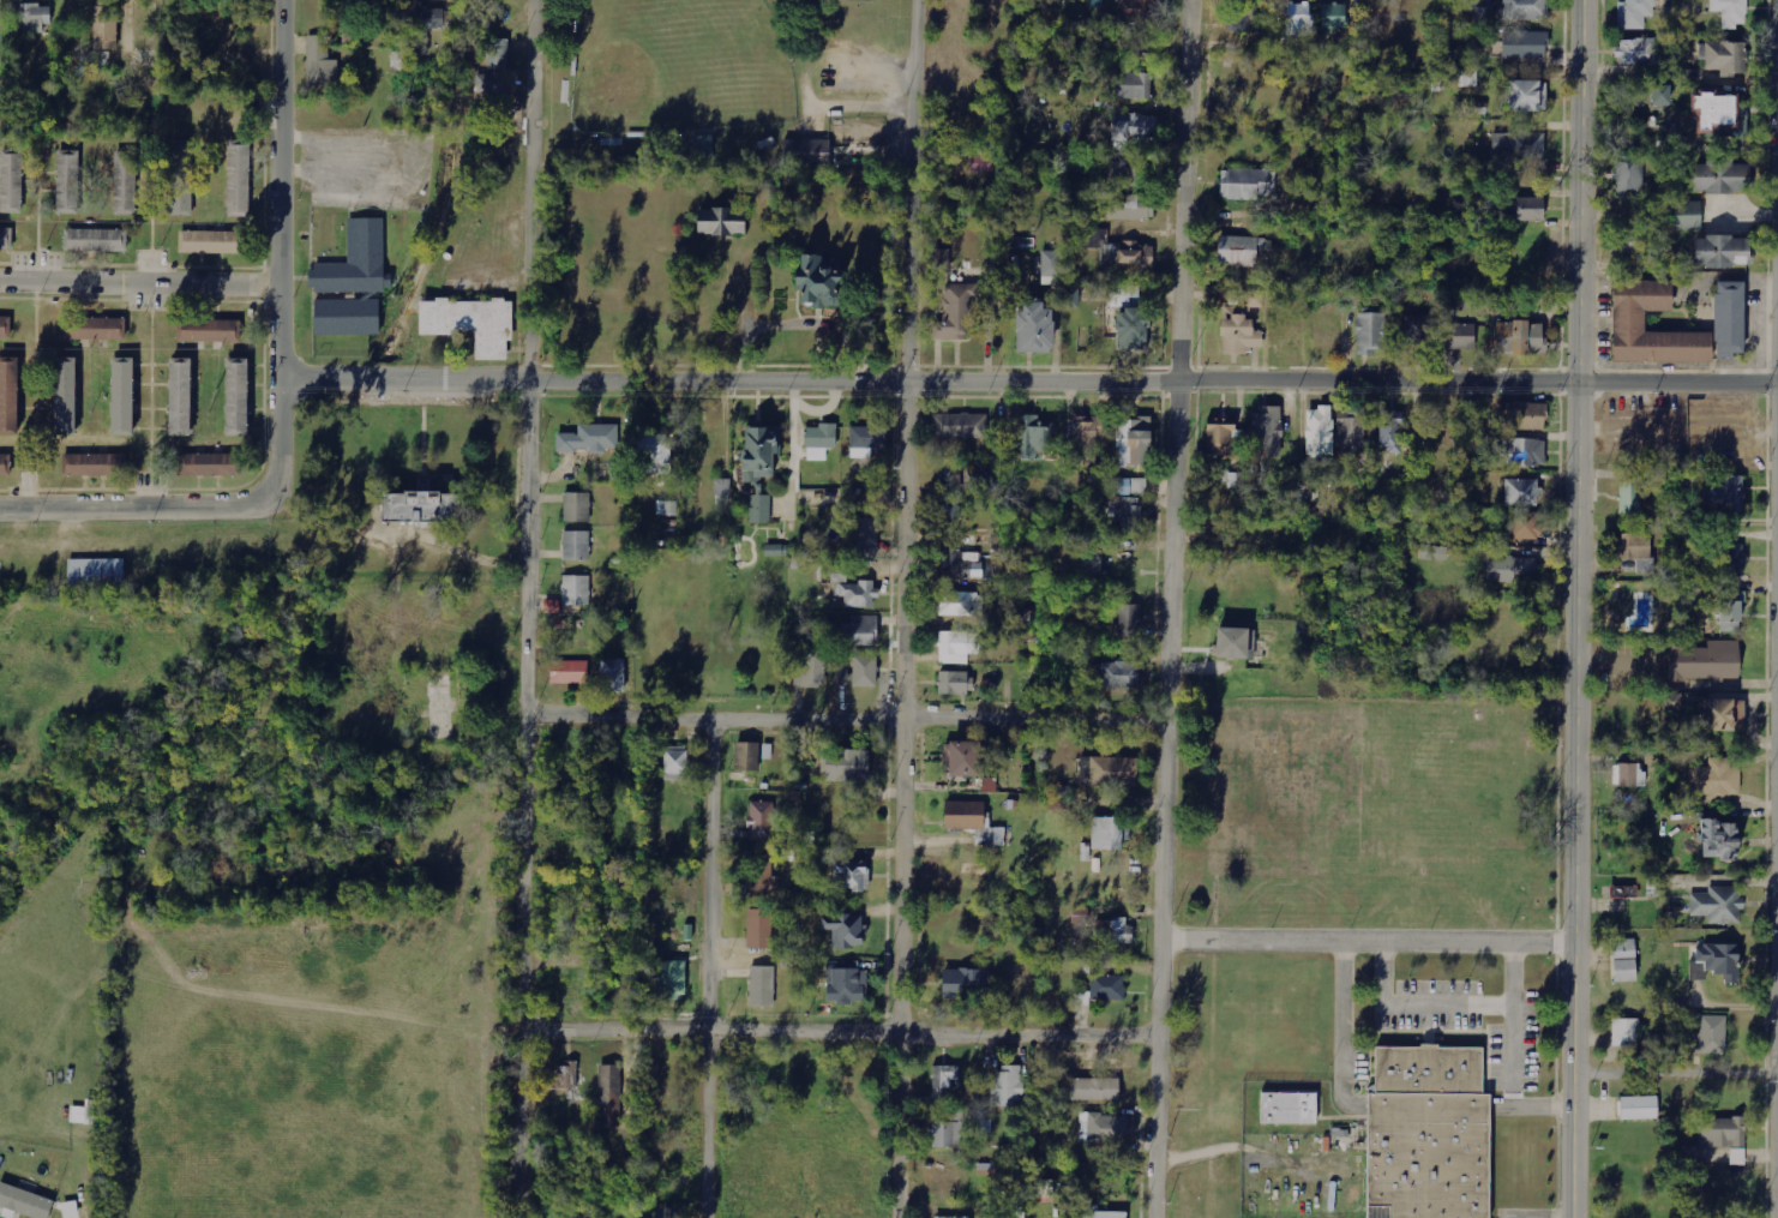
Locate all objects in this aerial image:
building: (1525, 10)
building: (1137, 11)
building: (1730, 11)
building: (1634, 13)
building: (1333, 17)
building: (1484, 17)
building: (35, 18)
building: (1298, 19)
building: (426, 26)
building: (106, 28)
building: (1522, 44)
building: (1636, 50)
building: (498, 54)
building: (1725, 58)
building: (401, 60)
building: (322, 61)
park: (672, 66)
building: (1465, 79)
park: (727, 82)
building: (1440, 83)
building: (492, 85)
building: (1130, 85)
building: (1526, 95)
building: (1660, 95)
building: (1474, 108)
building: (1712, 109)
building: (1133, 126)
building: (703, 146)
building: (1518, 146)
building: (809, 151)
building: (981, 163)
building: (1123, 170)
building: (1720, 176)
building: (182, 178)
building: (1629, 178)
building: (239, 180)
building: (11, 181)
building: (67, 181)
building: (126, 182)
building: (1248, 184)
building: (1128, 208)
building: (1526, 209)
building: (1687, 215)
building: (719, 221)
building: (6, 239)
building: (96, 240)
building: (1629, 241)
building: (210, 242)
building: (1238, 250)
building: (1722, 251)
building: (1119, 252)
road: (280, 257)
building: (941, 258)
building: (356, 262)
building: (1051, 263)
building: (813, 281)
road: (139, 284)
building: (1071, 298)
building: (1255, 299)
building: (956, 313)
building: (347, 317)
building: (470, 323)
building: (1628, 324)
building: (5, 326)
building: (1033, 326)
building: (95, 328)
building: (1130, 329)
building: (210, 330)
building: (1238, 331)
building: (1370, 332)
building: (1418, 334)
building: (1459, 336)
building: (1519, 337)
road: (1029, 383)
building: (8, 395)
building: (64, 396)
building: (121, 396)
building: (179, 396)
building: (236, 397)
building: (1525, 415)
building: (959, 425)
building: (1267, 431)
building: (1319, 432)
building: (1351, 432)
building: (1390, 432)
building: (1035, 437)
building: (1219, 437)
building: (589, 439)
building: (866, 439)
building: (819, 440)
building: (1085, 440)
building: (1133, 442)
building: (758, 451)
building: (1521, 452)
building: (654, 454)
building: (91, 464)
building: (208, 464)
building: (5, 466)
building: (1232, 479)
building: (1130, 486)
building: (722, 487)
building: (1521, 492)
building: (1725, 492)
building: (950, 493)
building: (1630, 497)
building: (419, 504)
building: (576, 508)
building: (667, 508)
building: (759, 509)
road: (127, 510)
building: (1128, 512)
building: (1525, 526)
building: (867, 536)
building: (576, 545)
building: (776, 550)
building: (1635, 551)
building: (1434, 553)
building: (1730, 558)
building: (961, 565)
building: (1509, 568)
building: (96, 572)
building: (576, 590)
building: (858, 594)
building: (961, 604)
road: (524, 608)
road: (902, 608)
road: (1169, 608)
road: (1575, 608)
building: (1731, 611)
building: (1128, 619)
building: (859, 630)
building: (1233, 643)
building: (957, 647)
building: (1705, 661)
building: (815, 668)
building: (864, 671)
building: (569, 672)
building: (1117, 674)
building: (612, 676)
building: (955, 683)
building: (1722, 715)
road: (843, 716)
building: (746, 756)
building: (960, 758)
building: (675, 763)
building: (846, 766)
building: (1113, 772)
building: (1629, 775)
building: (1714, 779)
building: (763, 821)
building: (972, 823)
building: (1107, 834)
building: (1717, 839)
building: (846, 871)
building: (762, 876)
building: (1718, 905)
building: (1080, 916)
building: (761, 929)
building: (843, 930)
building: (1112, 932)
road: (1368, 937)
building: (1623, 960)
building: (1716, 962)
road: (710, 965)
building: (672, 979)
building: (845, 983)
building: (963, 983)
building: (762, 986)
building: (1101, 990)
road: (842, 1031)
building: (1626, 1032)
building: (1707, 1037)
building: (944, 1076)
road: (1675, 1076)
building: (566, 1080)
building: (1008, 1086)
building: (1094, 1090)
building: (609, 1096)
building: (1284, 1105)
building: (1639, 1108)
building: (1103, 1128)
building: (948, 1134)
building: (1423, 1134)
building: (1714, 1138)
building: (1737, 1157)
building: (948, 1183)
building: (1044, 1188)
building: (24, 1202)
building: (667, 1213)
building: (1099, 1213)
building: (948, 1217)

